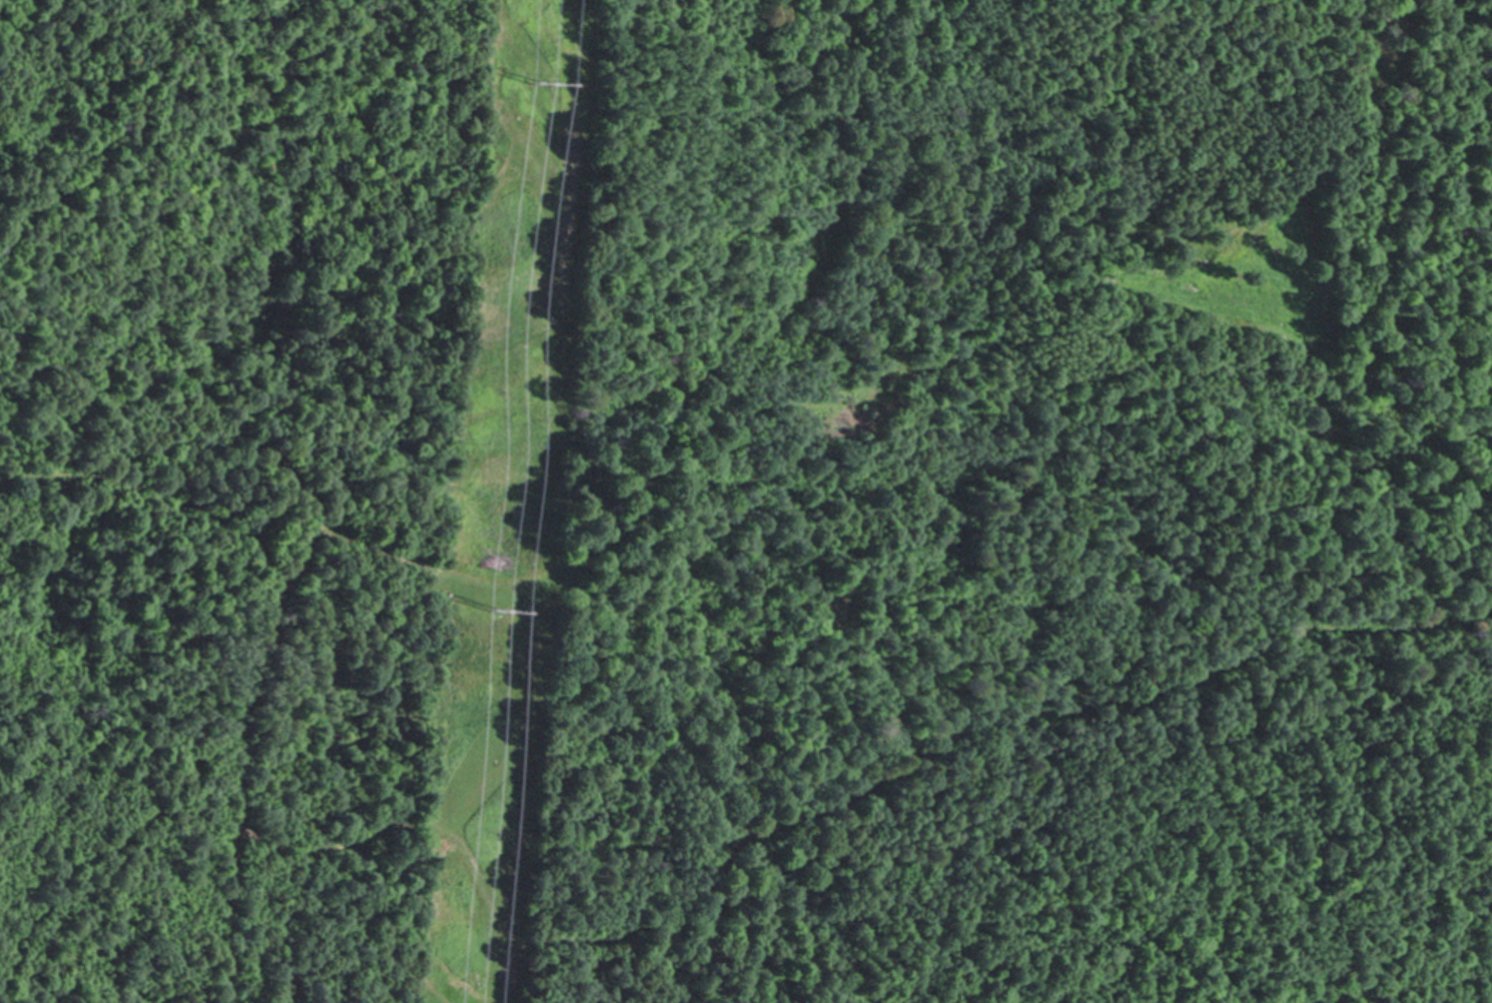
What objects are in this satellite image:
power tower: (535, 74)
power tower: (492, 618)

